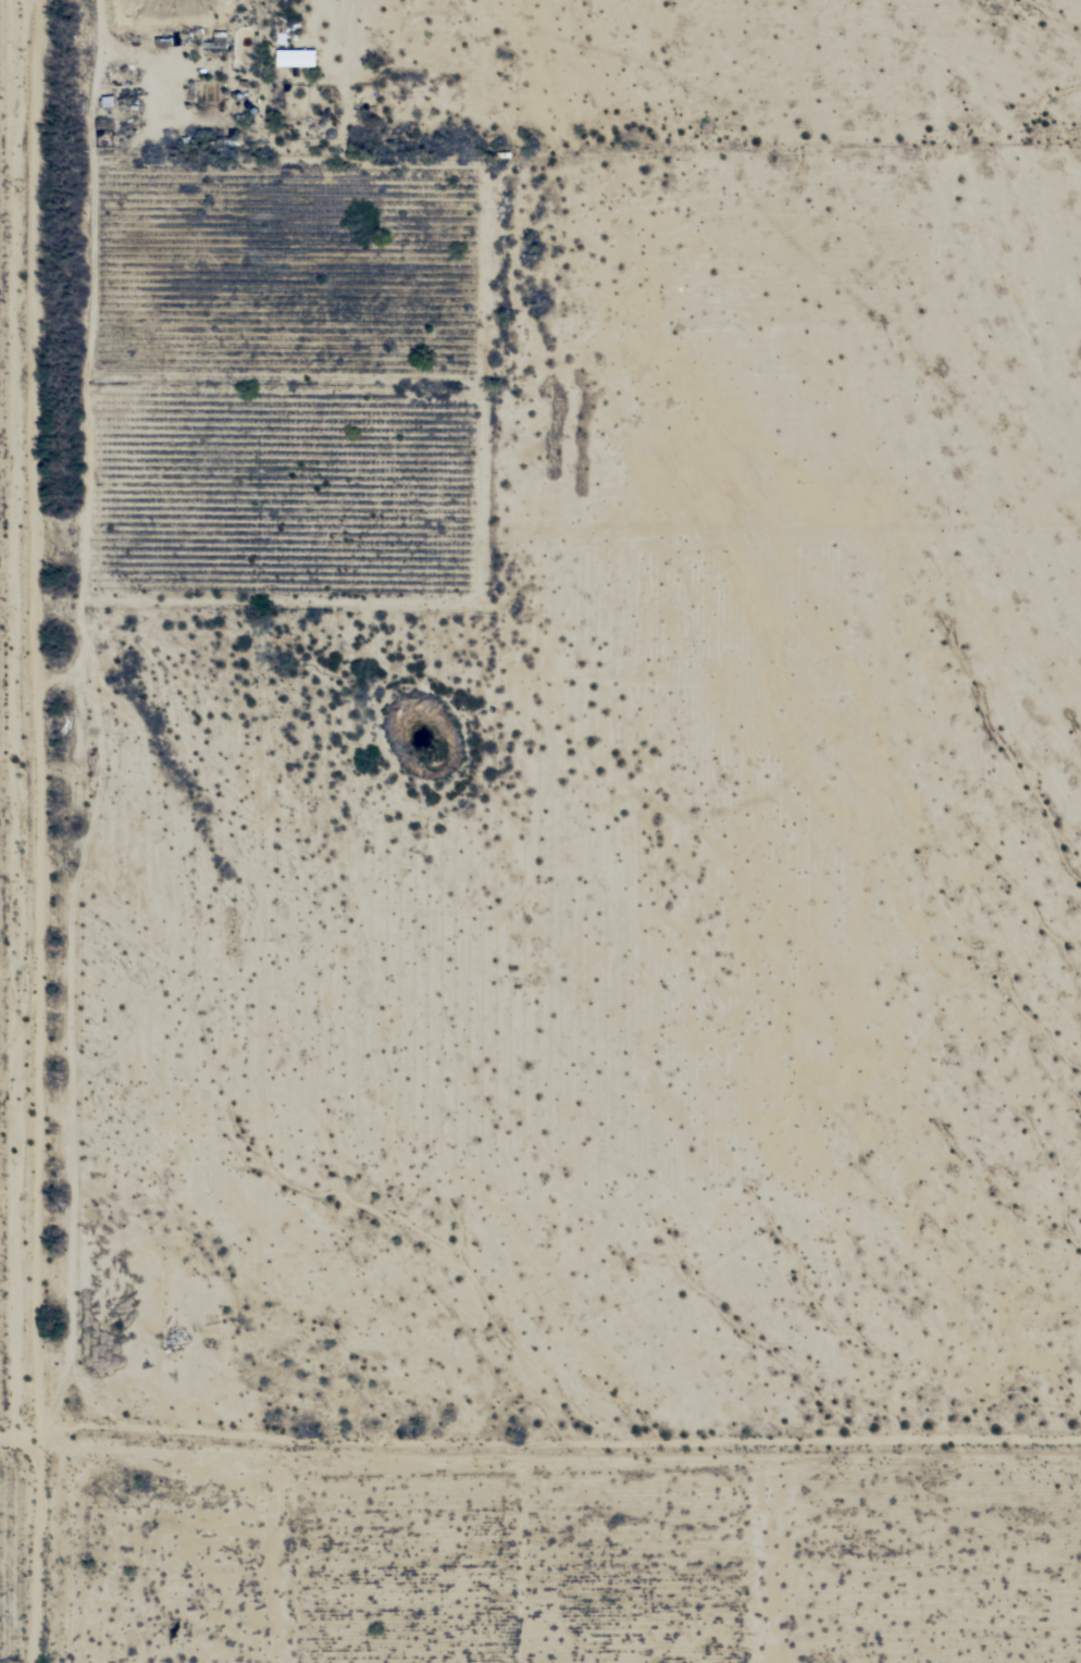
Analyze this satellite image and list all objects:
building: (296, 58)
road: (44, 831)

